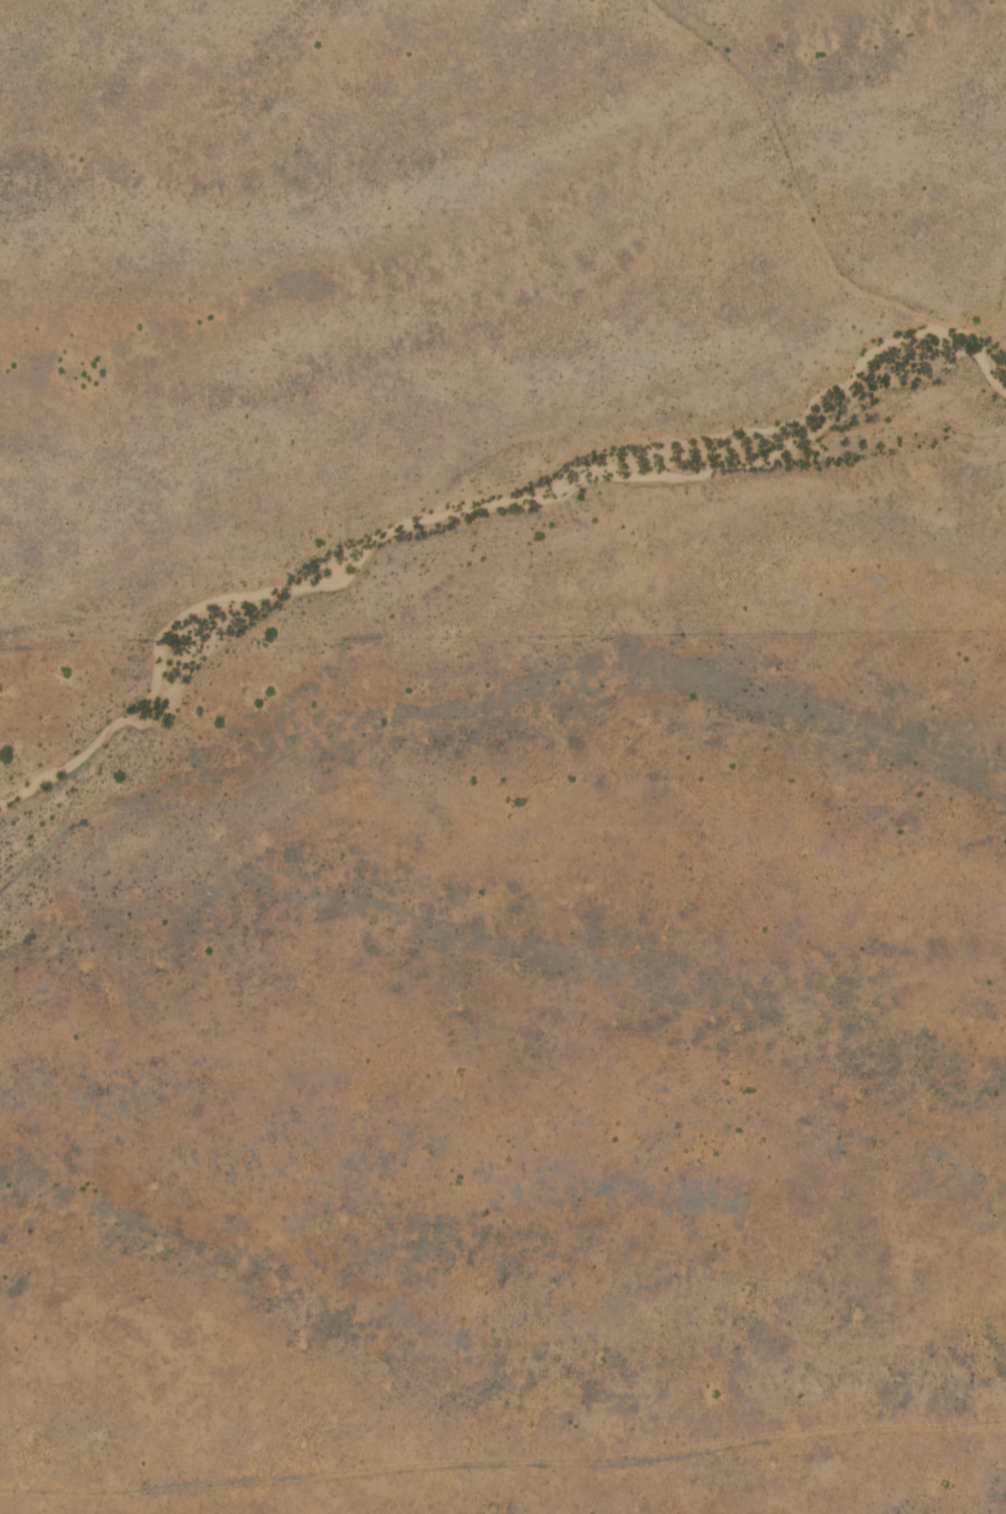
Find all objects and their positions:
road: (505, 1453)

